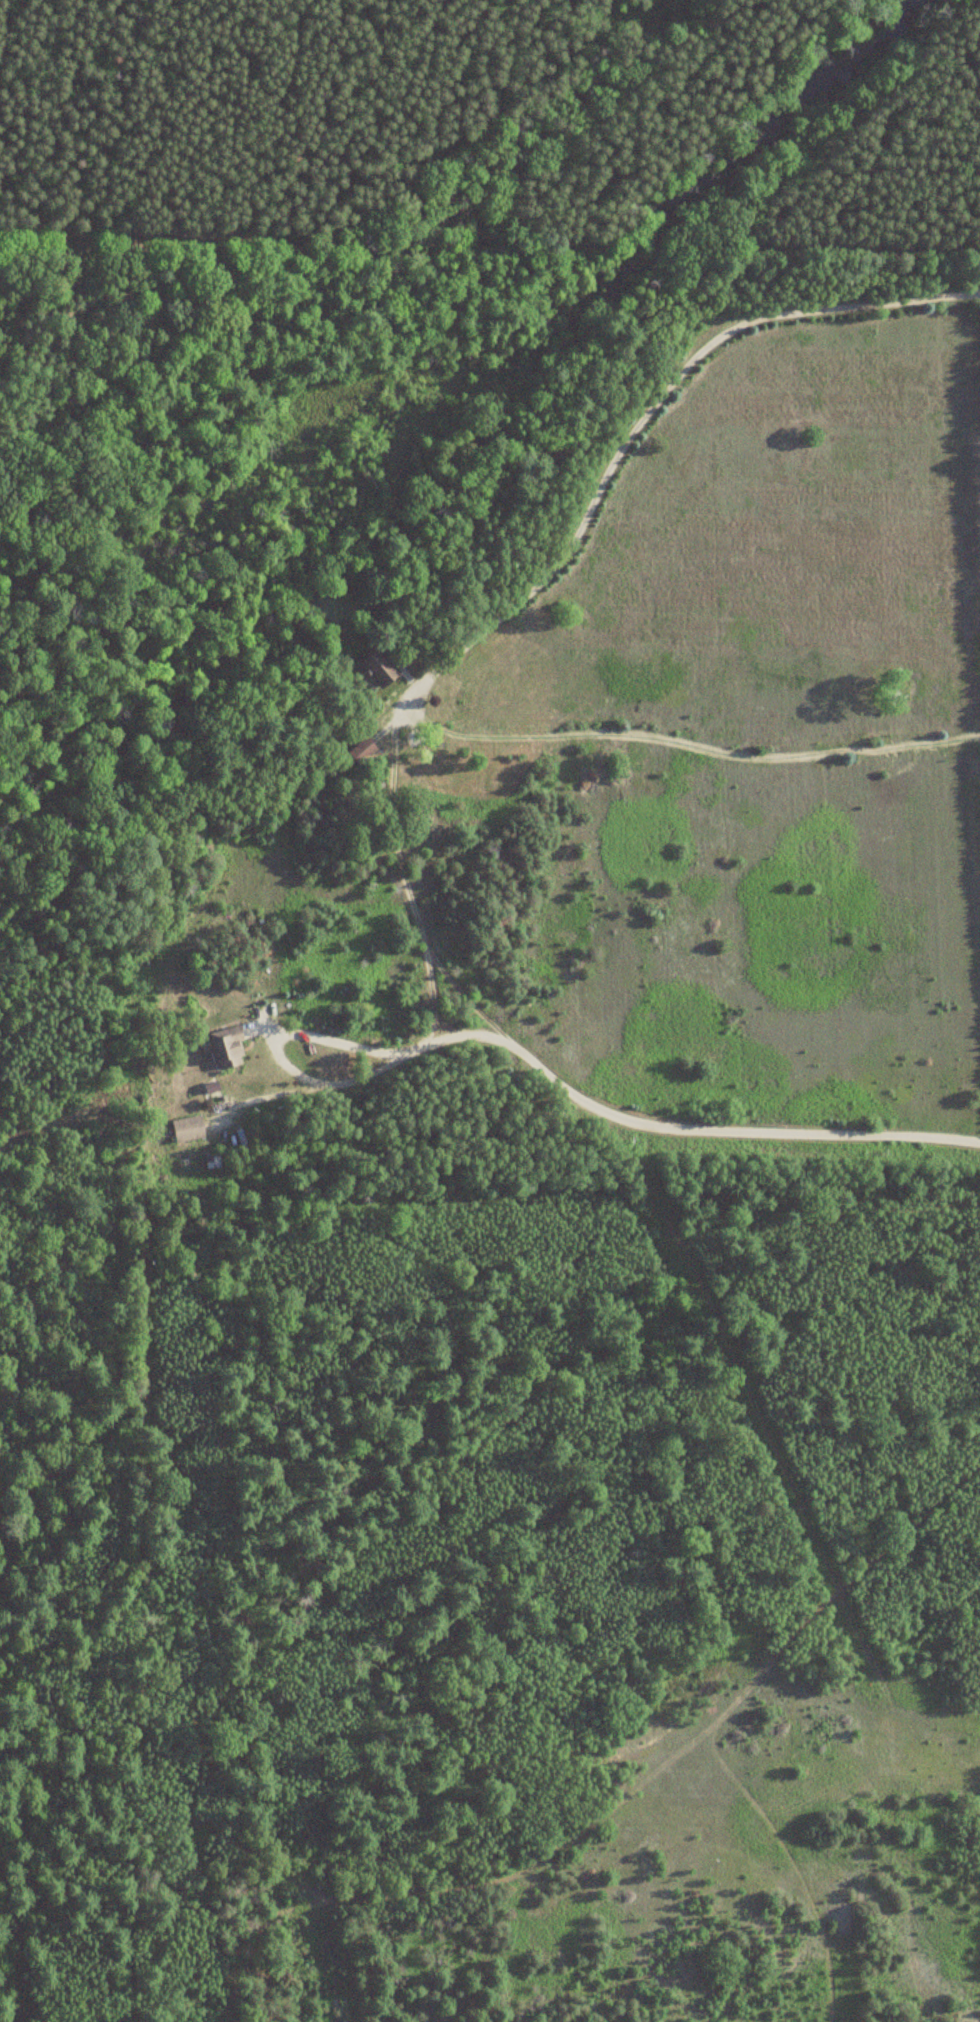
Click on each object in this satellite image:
road: (488, 123)
road: (489, 249)
road: (644, 414)
building: (376, 667)
building: (360, 750)
building: (226, 1049)
road: (272, 1050)
road: (675, 1124)
building: (186, 1128)

